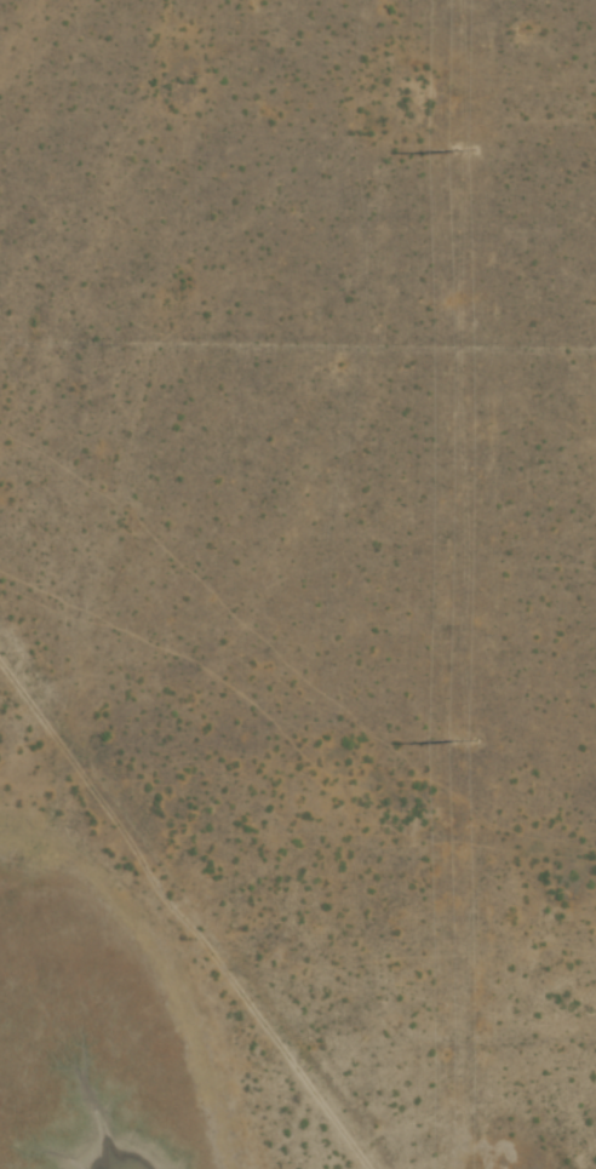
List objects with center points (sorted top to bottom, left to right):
power tower: (464, 150)
power tower: (465, 741)
road: (297, 1044)

